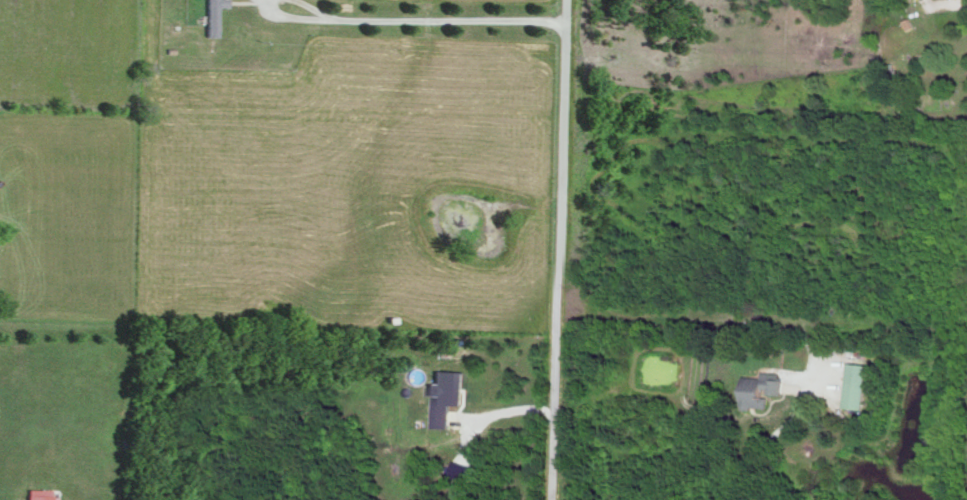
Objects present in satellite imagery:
road: (311, 7)
building: (212, 16)
road: (292, 18)
road: (445, 20)
road: (558, 250)
building: (856, 385)
building: (763, 388)
building: (445, 395)
road: (770, 437)
building: (41, 494)

